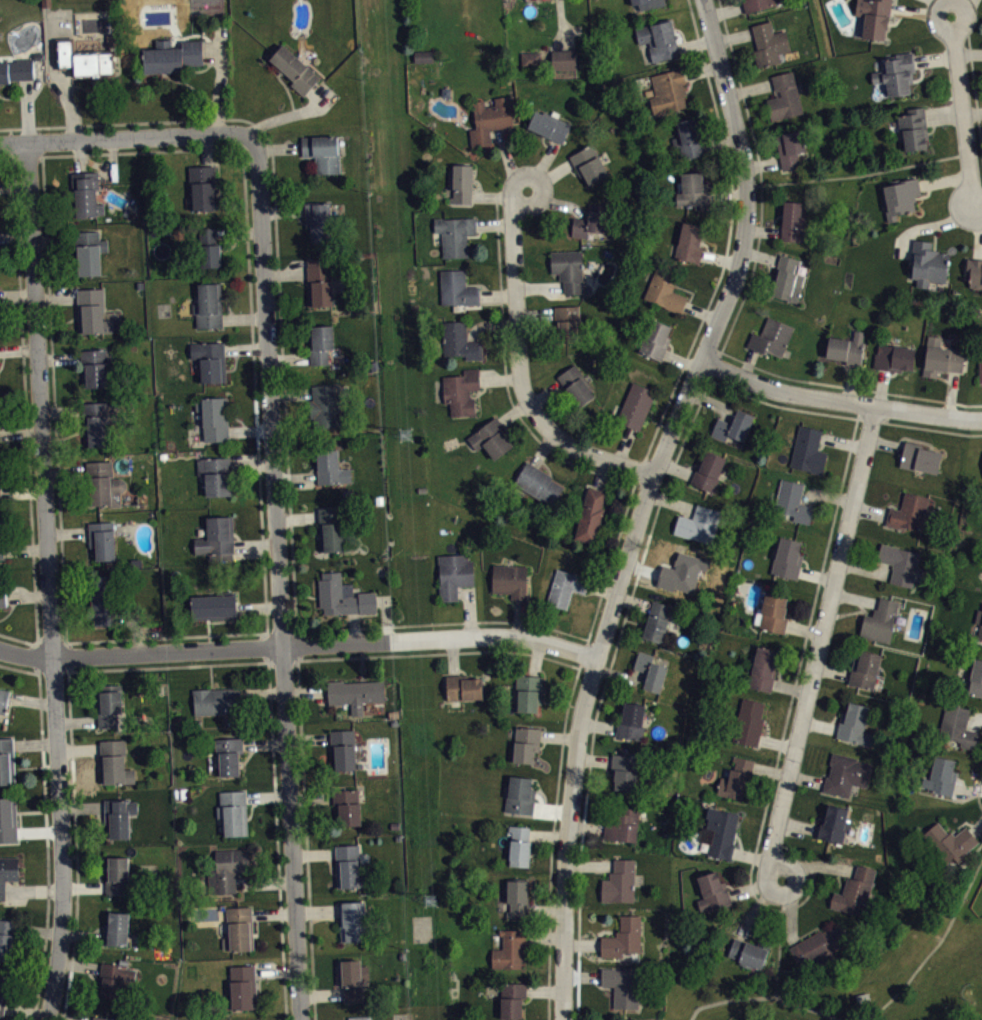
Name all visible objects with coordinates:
park: (202, 0)
building: (648, 3)
building: (757, 4)
building: (871, 18)
road: (561, 25)
building: (658, 39)
building: (768, 44)
road: (211, 48)
building: (172, 55)
building: (531, 58)
building: (84, 59)
building: (563, 59)
building: (426, 62)
building: (16, 69)
building: (295, 69)
building: (895, 73)
road: (221, 80)
building: (668, 91)
building: (445, 92)
building: (784, 96)
road: (962, 108)
road: (296, 114)
building: (490, 119)
building: (549, 125)
building: (913, 128)
building: (688, 138)
road: (121, 139)
building: (790, 148)
building: (323, 152)
road: (7, 157)
building: (588, 164)
road: (858, 174)
building: (462, 183)
road: (15, 185)
building: (202, 188)
building: (692, 191)
building: (87, 195)
building: (900, 197)
road: (978, 202)
building: (591, 220)
building: (319, 221)
building: (793, 221)
building: (455, 235)
road: (16, 240)
building: (690, 242)
road: (726, 247)
building: (209, 248)
road: (277, 248)
building: (89, 251)
building: (928, 263)
building: (568, 270)
building: (974, 272)
building: (787, 279)
building: (320, 282)
building: (457, 288)
building: (665, 289)
road: (249, 290)
road: (17, 295)
building: (208, 306)
road: (740, 307)
building: (91, 312)
building: (567, 322)
building: (771, 337)
building: (655, 339)
building: (460, 341)
building: (321, 344)
building: (847, 348)
road: (18, 349)
building: (894, 357)
building: (941, 357)
building: (980, 357)
building: (210, 361)
building: (94, 368)
road: (522, 368)
road: (505, 373)
building: (576, 385)
building: (461, 392)
road: (25, 399)
road: (839, 400)
building: (325, 406)
building: (636, 406)
building: (213, 418)
building: (96, 423)
road: (913, 425)
building: (732, 426)
road: (20, 432)
road: (976, 433)
power tower: (401, 435)
building: (491, 438)
building: (0, 448)
building: (808, 449)
building: (920, 457)
building: (330, 467)
building: (708, 470)
building: (216, 475)
building: (105, 484)
building: (539, 484)
building: (0, 489)
road: (59, 499)
building: (792, 501)
road: (642, 502)
building: (909, 513)
building: (590, 515)
building: (698, 524)
building: (333, 531)
building: (217, 538)
building: (101, 540)
building: (1, 541)
building: (787, 558)
road: (610, 561)
building: (899, 563)
building: (687, 569)
road: (279, 573)
building: (454, 574)
building: (509, 580)
road: (48, 582)
building: (565, 587)
road: (27, 595)
building: (342, 595)
road: (631, 596)
building: (2, 597)
building: (103, 599)
building: (213, 605)
building: (774, 613)
building: (880, 620)
building: (656, 621)
building: (979, 621)
road: (444, 623)
road: (51, 635)
road: (17, 638)
building: (981, 640)
road: (297, 645)
road: (820, 645)
road: (583, 653)
road: (70, 656)
road: (31, 657)
building: (763, 668)
building: (864, 668)
road: (18, 669)
building: (650, 671)
building: (976, 678)
building: (463, 687)
building: (528, 692)
building: (355, 693)
building: (3, 699)
road: (299, 699)
road: (30, 700)
building: (217, 700)
building: (109, 704)
building: (631, 721)
building: (750, 721)
building: (855, 723)
road: (785, 724)
building: (958, 727)
road: (272, 740)
building: (526, 744)
building: (343, 748)
building: (229, 755)
building: (7, 761)
building: (114, 762)
building: (626, 768)
building: (846, 774)
building: (941, 776)
building: (735, 778)
road: (977, 791)
building: (520, 794)
building: (346, 807)
building: (233, 812)
building: (118, 815)
building: (8, 819)
building: (621, 823)
building: (834, 823)
building: (721, 832)
building: (951, 841)
road: (552, 842)
road: (76, 845)
building: (519, 845)
road: (47, 846)
building: (349, 866)
building: (228, 870)
building: (7, 872)
building: (119, 876)
building: (619, 881)
building: (855, 891)
building: (711, 893)
building: (517, 897)
power tower: (426, 906)
building: (353, 921)
building: (116, 928)
building: (239, 928)
building: (623, 938)
building: (8, 939)
road: (779, 939)
road: (939, 943)
building: (818, 946)
building: (509, 949)
building: (748, 952)
park: (875, 974)
building: (114, 978)
building: (354, 978)
building: (621, 986)
building: (243, 987)
building: (3, 993)
road: (578, 998)
road: (762, 998)
building: (512, 999)
building: (360, 1017)
building: (102, 1018)

